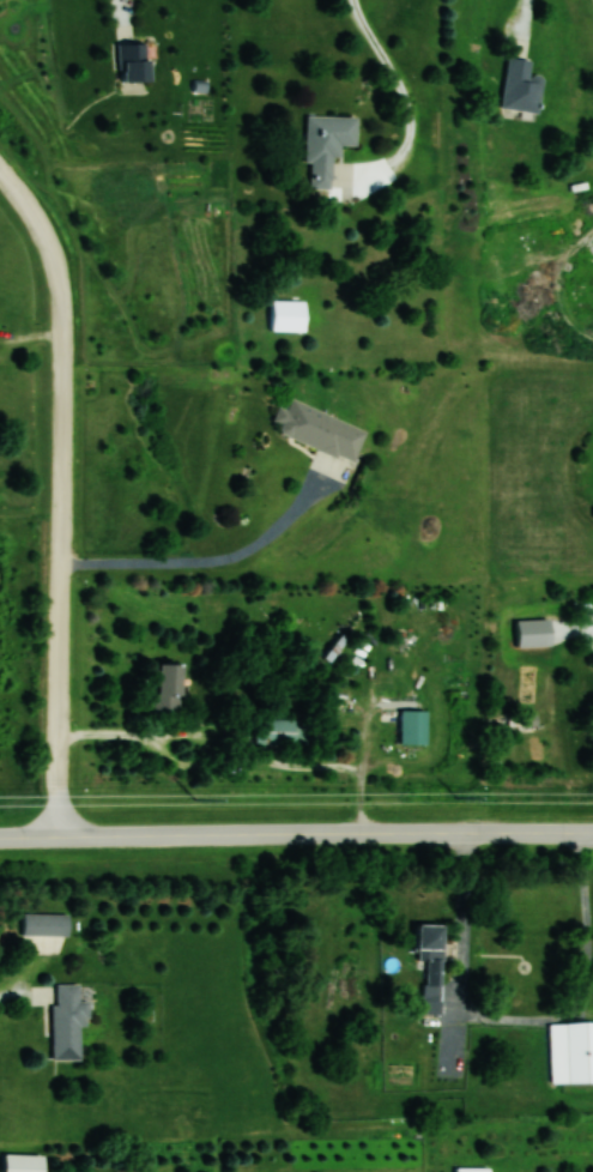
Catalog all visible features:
building: (132, 62)
building: (520, 85)
road: (407, 98)
building: (326, 144)
building: (286, 315)
building: (320, 429)
road: (61, 494)
road: (205, 556)
building: (167, 685)
building: (412, 726)
building: (282, 731)
road: (234, 757)
power tower: (455, 798)
power tower: (195, 799)
road: (296, 832)
building: (44, 924)
building: (430, 965)
building: (67, 1020)
road: (522, 1020)
building: (571, 1051)
building: (23, 1162)
building: (472, 1168)

